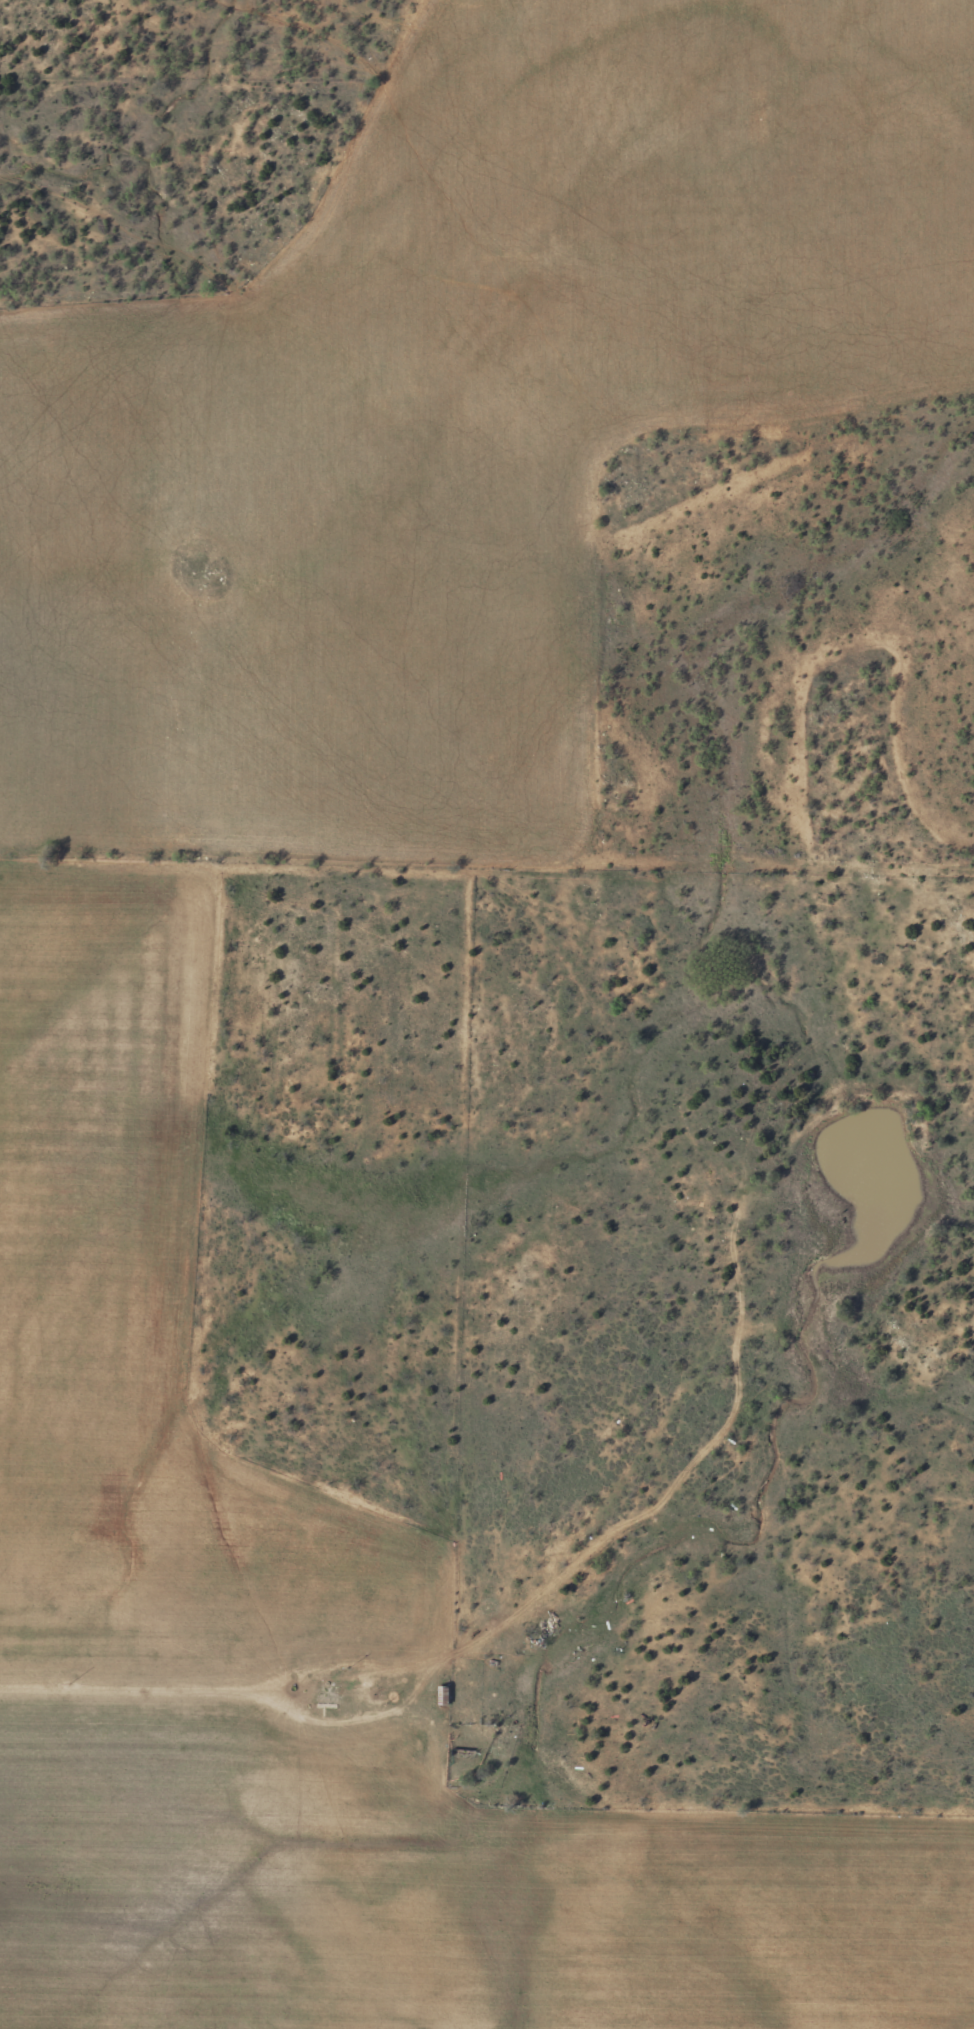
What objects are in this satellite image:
building: (331, 1703)
road: (216, 1715)

